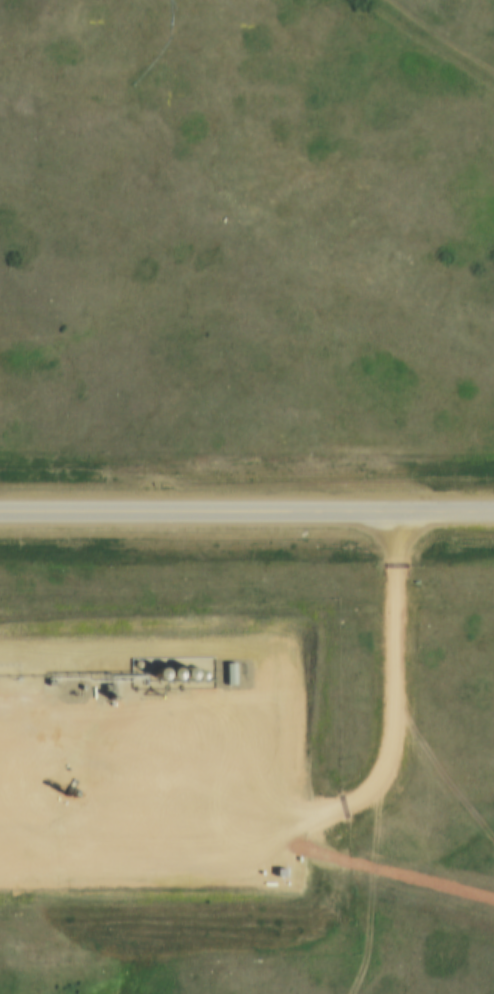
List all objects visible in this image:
road: (246, 514)
building: (197, 672)
storage tank: (197, 672)
building: (181, 673)
storage tank: (181, 673)
building: (152, 674)
storage tank: (152, 674)
building: (167, 674)
storage tank: (167, 674)
road: (387, 687)

